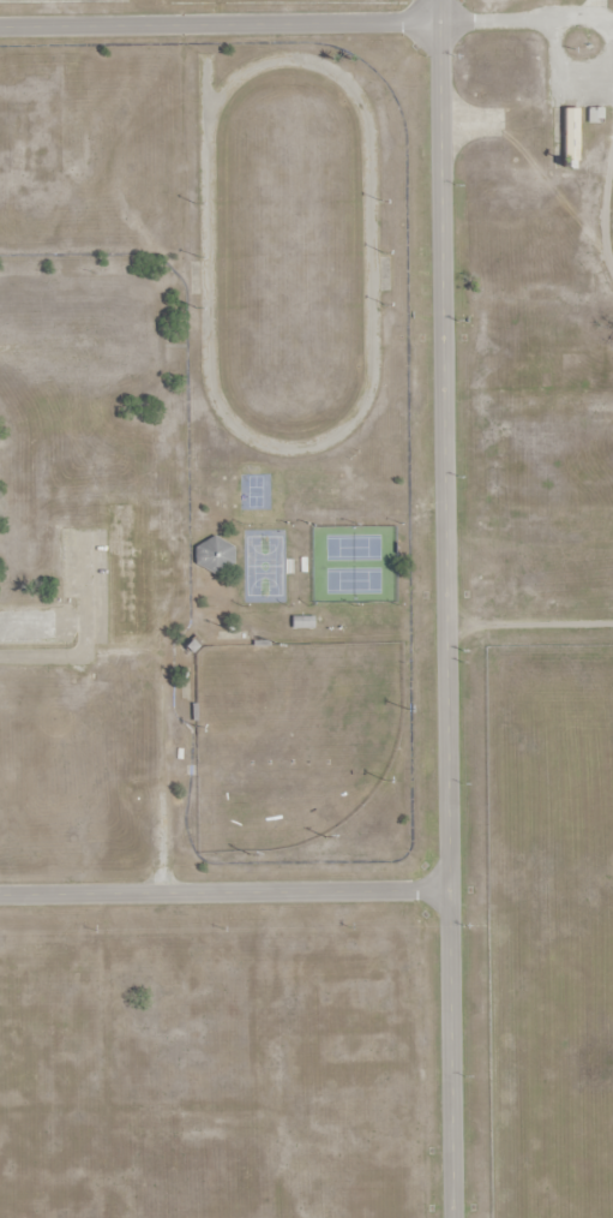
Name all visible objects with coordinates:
road: (306, 24)
building: (569, 137)
building: (212, 556)
building: (128, 573)
road: (445, 609)
building: (300, 625)
road: (224, 891)

